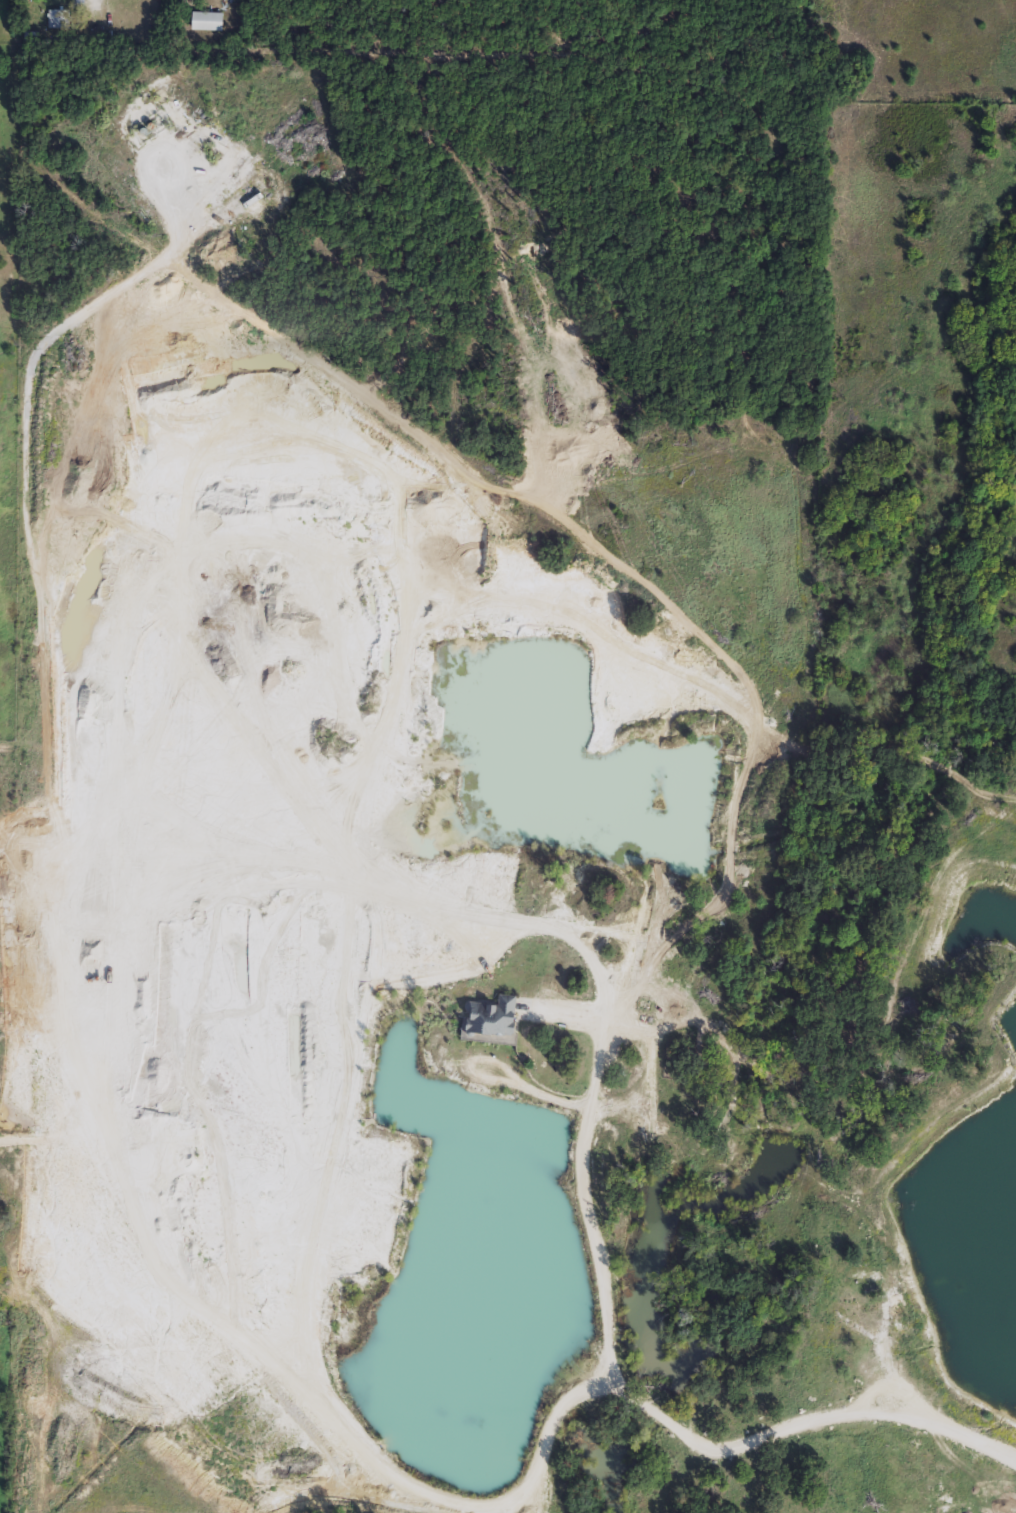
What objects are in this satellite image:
road: (98, 2)
building: (62, 20)
building: (211, 23)
building: (34, 40)
building: (492, 1017)
road: (617, 1385)

